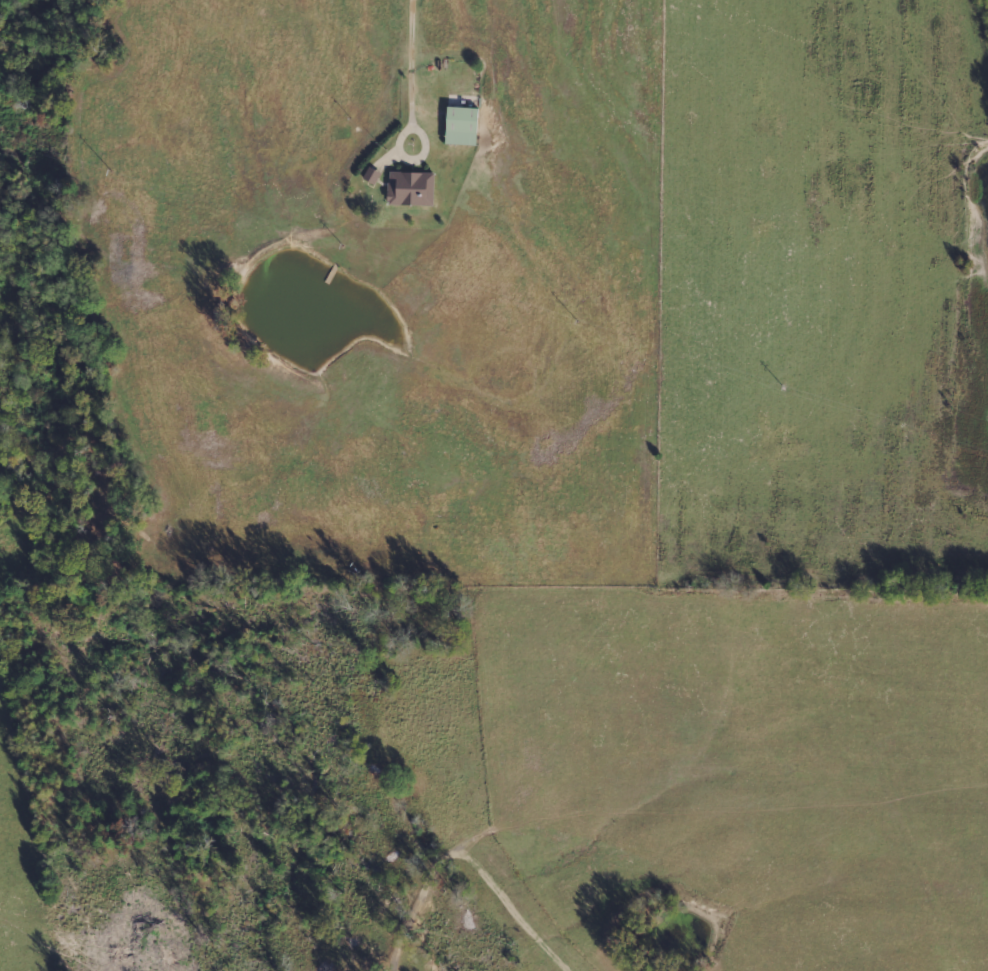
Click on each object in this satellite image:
road: (865, 20)
building: (462, 126)
building: (372, 175)
building: (412, 188)

